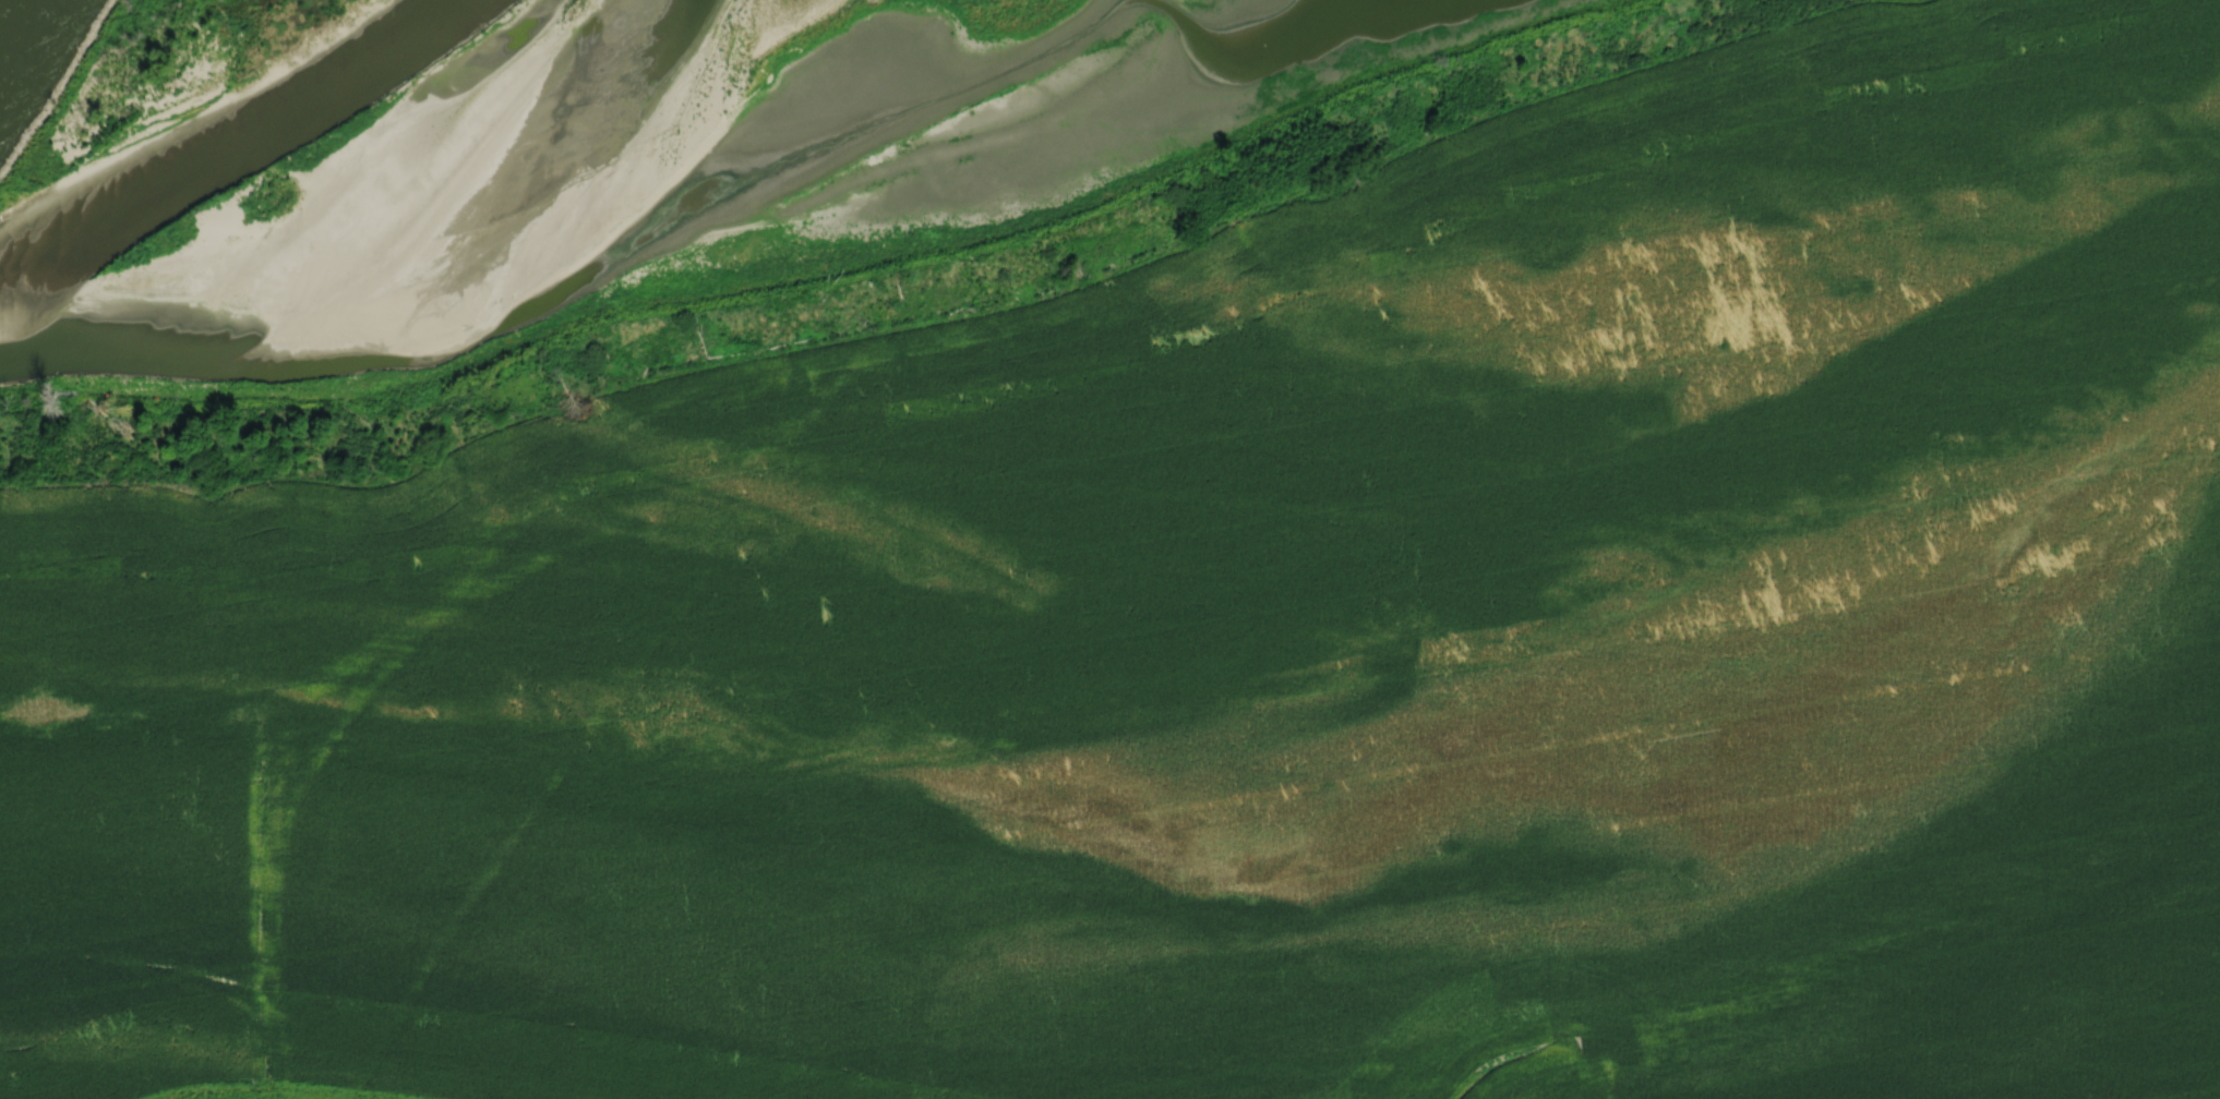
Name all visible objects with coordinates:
road: (984, 410)

